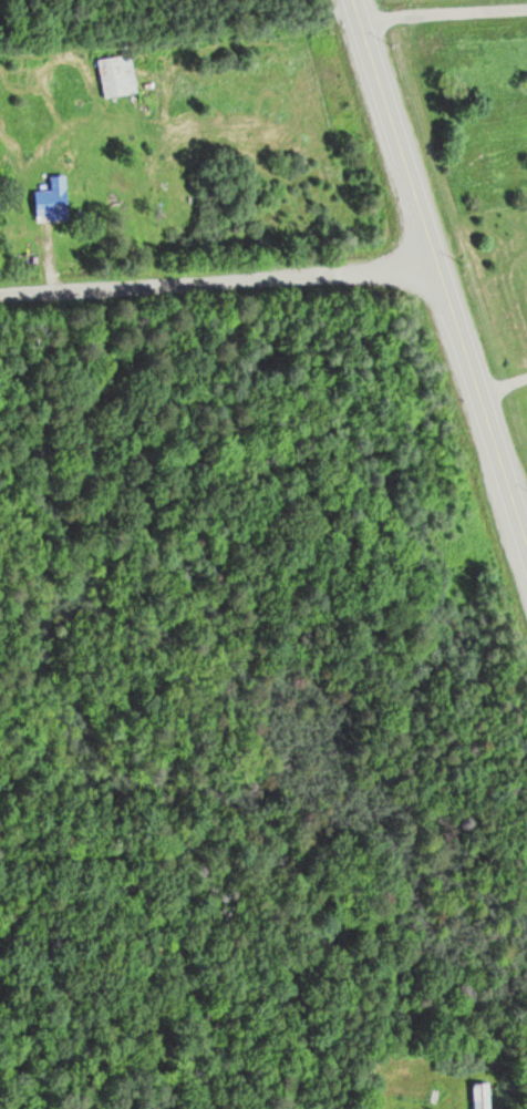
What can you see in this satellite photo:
road: (443, 13)
road: (438, 274)
road: (218, 280)
road: (502, 383)

